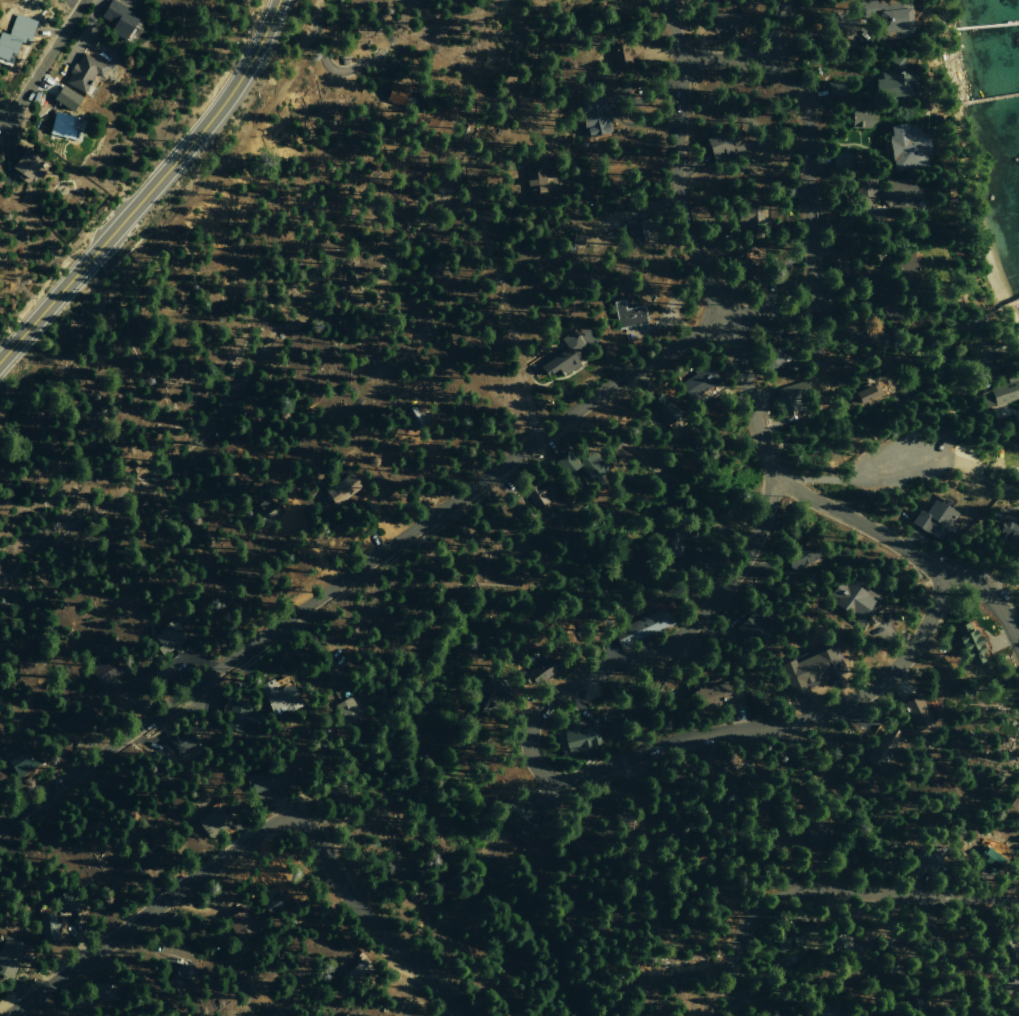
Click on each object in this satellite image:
road: (313, 10)
building: (884, 16)
building: (115, 18)
building: (725, 23)
pier: (985, 23)
building: (15, 32)
road: (774, 32)
road: (340, 53)
building: (618, 56)
road: (41, 64)
building: (82, 72)
building: (889, 79)
building: (833, 89)
building: (393, 93)
pier: (995, 94)
building: (63, 98)
building: (591, 115)
road: (256, 118)
building: (859, 119)
building: (61, 125)
building: (716, 144)
building: (903, 145)
building: (839, 161)
road: (675, 164)
building: (21, 165)
road: (806, 177)
building: (533, 184)
road: (151, 187)
building: (895, 192)
building: (747, 211)
building: (635, 232)
building: (575, 238)
building: (741, 268)
building: (900, 269)
pier: (1012, 297)
building: (626, 314)
building: (767, 358)
building: (556, 363)
building: (695, 382)
building: (1000, 392)
building: (866, 393)
building: (787, 397)
road: (745, 400)
building: (659, 408)
building: (411, 418)
park: (902, 453)
parking lot: (891, 463)
road: (976, 466)
building: (577, 467)
road: (855, 476)
road: (993, 480)
building: (337, 490)
building: (534, 498)
building: (264, 512)
building: (933, 520)
road: (860, 524)
building: (1007, 532)
building: (673, 543)
building: (796, 557)
building: (695, 565)
road: (357, 568)
building: (849, 601)
road: (991, 601)
building: (749, 627)
building: (639, 628)
building: (166, 639)
building: (969, 644)
building: (810, 669)
building: (103, 672)
building: (161, 672)
building: (539, 672)
building: (494, 690)
building: (339, 694)
building: (709, 695)
building: (277, 697)
building: (345, 710)
building: (915, 713)
building: (236, 717)
building: (82, 721)
building: (577, 737)
building: (177, 743)
building: (881, 748)
building: (18, 762)
building: (266, 779)
road: (573, 779)
building: (725, 791)
building: (326, 794)
building: (517, 817)
building: (210, 821)
building: (807, 835)
road: (249, 838)
building: (922, 858)
building: (987, 858)
road: (776, 899)
building: (60, 900)
road: (964, 900)
building: (267, 902)
building: (239, 925)
building: (45, 926)
building: (787, 936)
building: (840, 944)
building: (1004, 945)
building: (886, 948)
road: (945, 951)
building: (7, 955)
building: (173, 970)
building: (98, 991)
building: (913, 1007)
building: (819, 1011)
building: (269, 1013)

